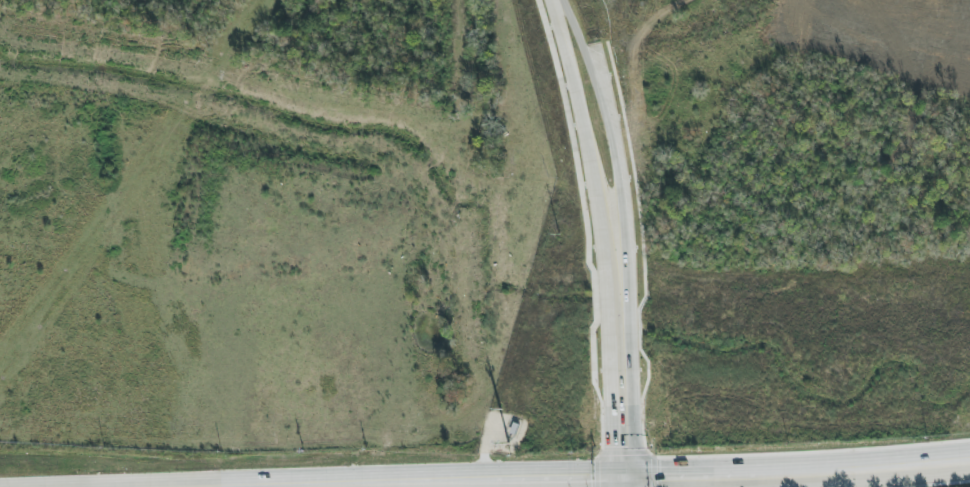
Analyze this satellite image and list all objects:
road: (554, 0)
road: (585, 22)
road: (595, 60)
road: (575, 107)
road: (613, 142)
road: (618, 342)
road: (685, 472)
road: (760, 478)
road: (625, 481)
road: (628, 481)
road: (280, 483)
road: (371, 483)

